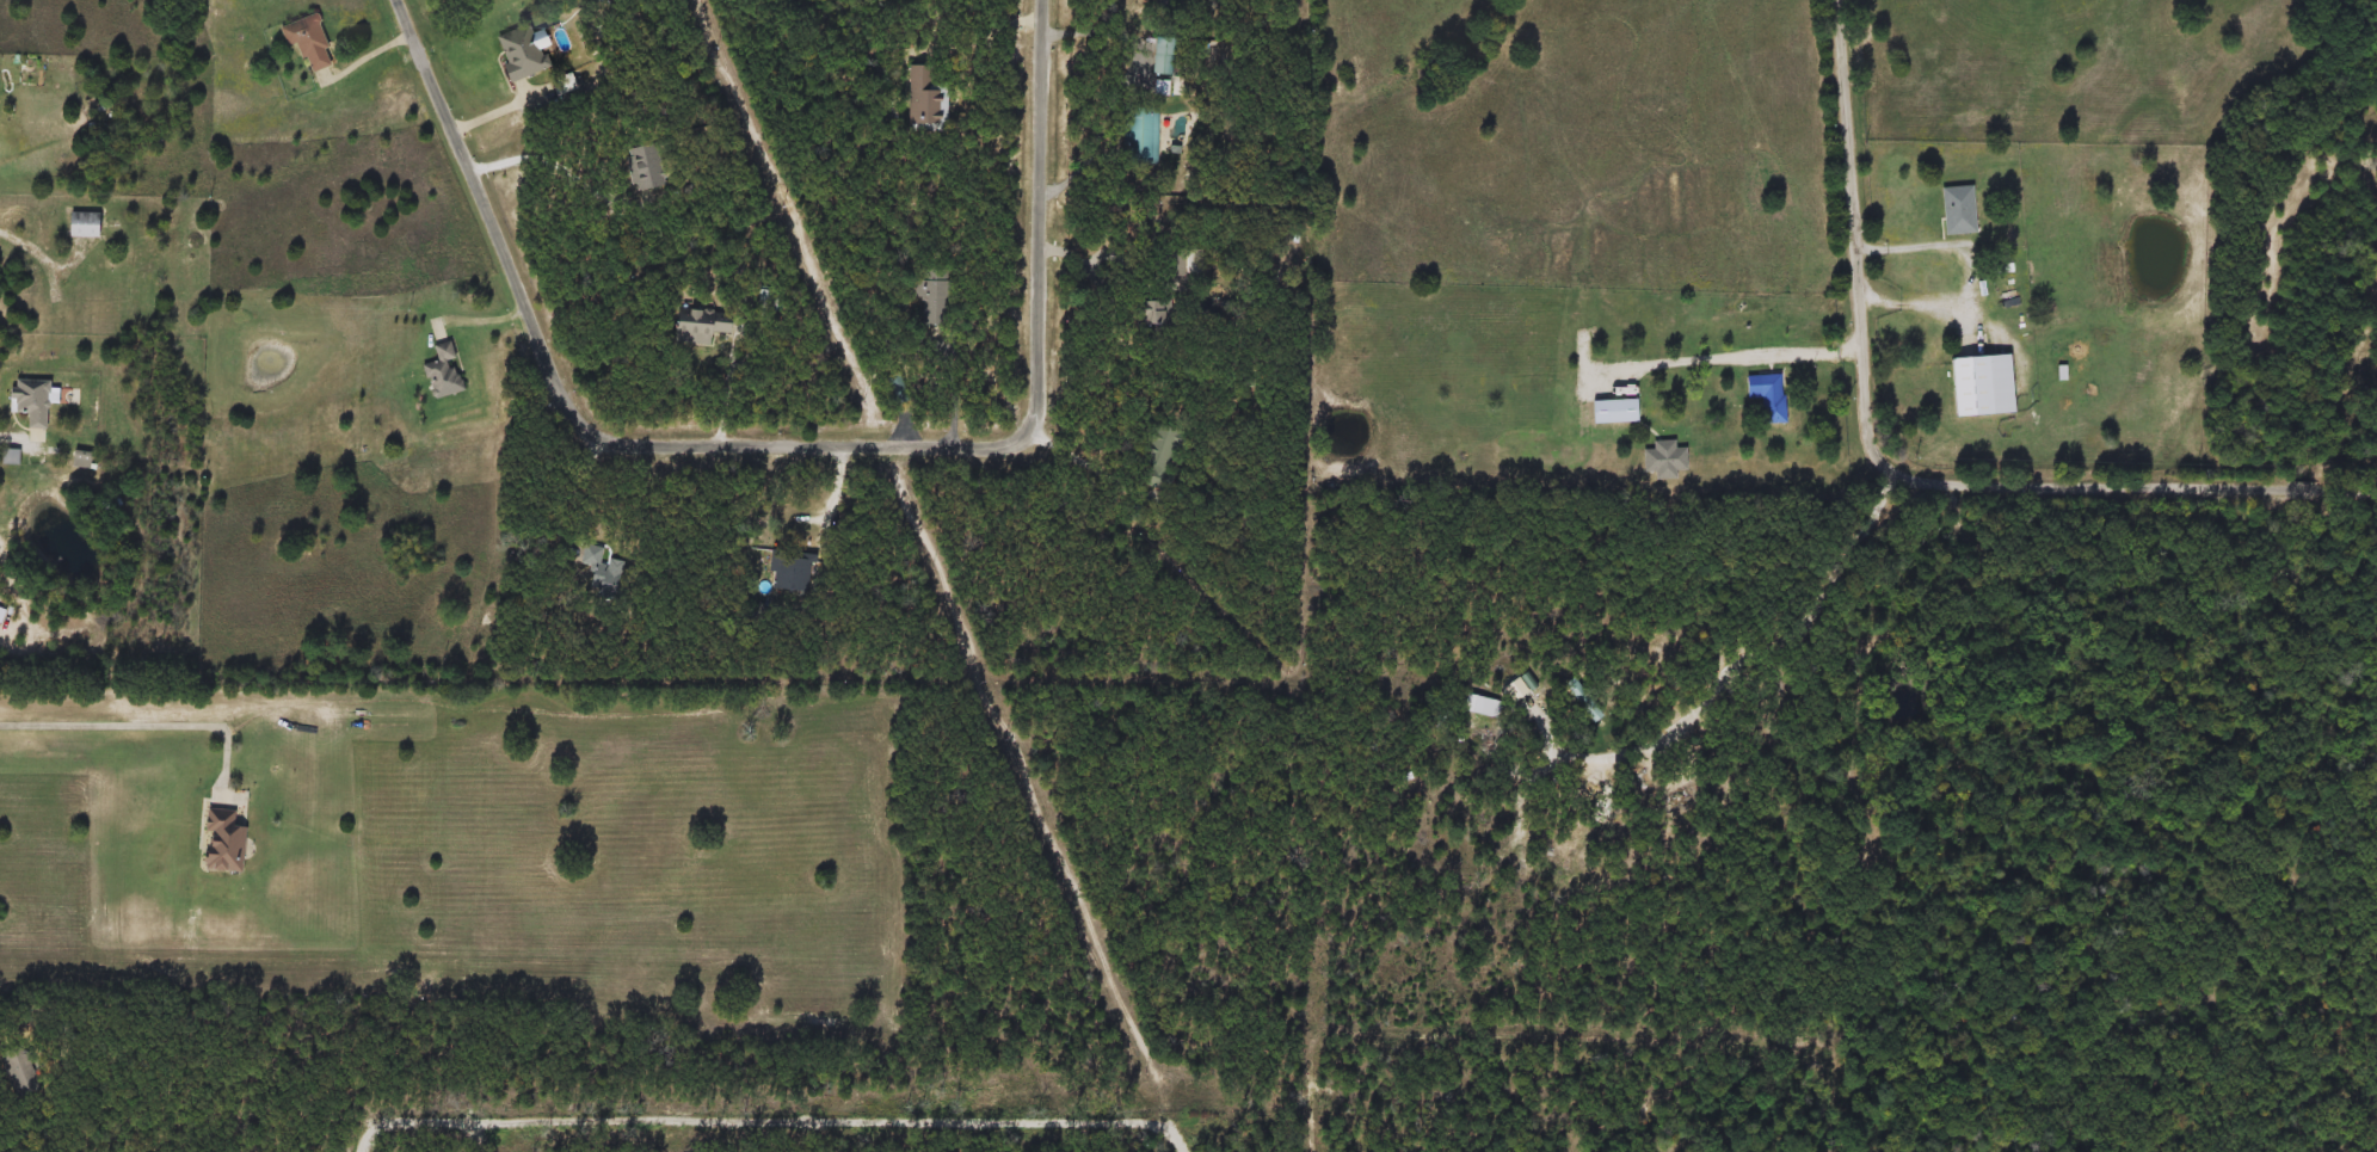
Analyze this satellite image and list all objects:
road: (1090, 29)
building: (309, 43)
building: (522, 53)
building: (1160, 56)
building: (925, 99)
building: (1140, 136)
road: (553, 162)
building: (645, 167)
building: (1959, 211)
building: (84, 226)
road: (42, 254)
building: (1174, 263)
road: (1085, 264)
road: (1977, 271)
building: (935, 297)
building: (766, 302)
building: (1154, 313)
road: (488, 315)
building: (700, 327)
road: (1734, 356)
building: (444, 372)
building: (1981, 386)
road: (727, 396)
road: (953, 398)
building: (1772, 399)
building: (33, 405)
building: (1614, 411)
road: (8, 435)
building: (1162, 439)
road: (789, 442)
road: (1079, 455)
building: (1663, 460)
road: (1897, 468)
road: (838, 481)
road: (574, 482)
building: (599, 565)
building: (790, 573)
road: (1762, 651)
road: (140, 725)
building: (226, 844)
building: (19, 1070)

